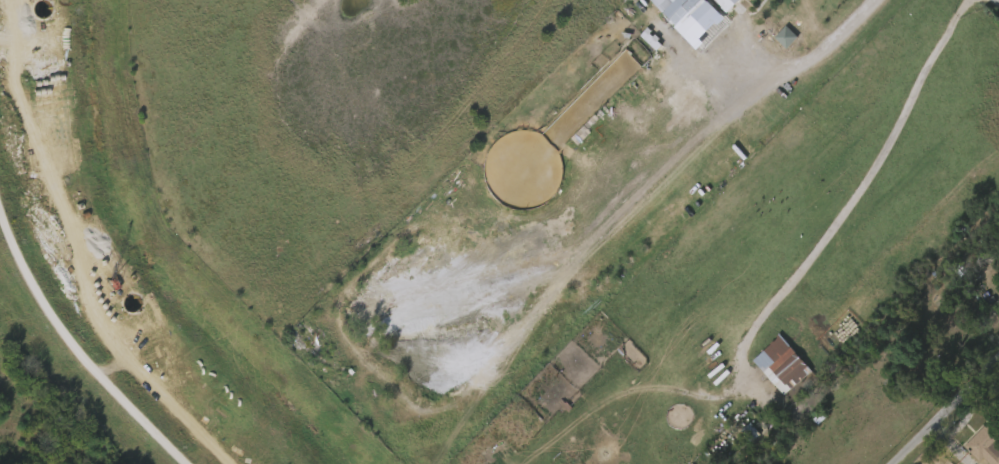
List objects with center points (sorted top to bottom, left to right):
building: (727, 4)
building: (716, 5)
building: (683, 9)
building: (776, 40)
road: (825, 47)
building: (682, 103)
road: (876, 164)
road: (70, 340)
building: (785, 369)
road: (949, 414)
building: (742, 436)
building: (986, 443)

